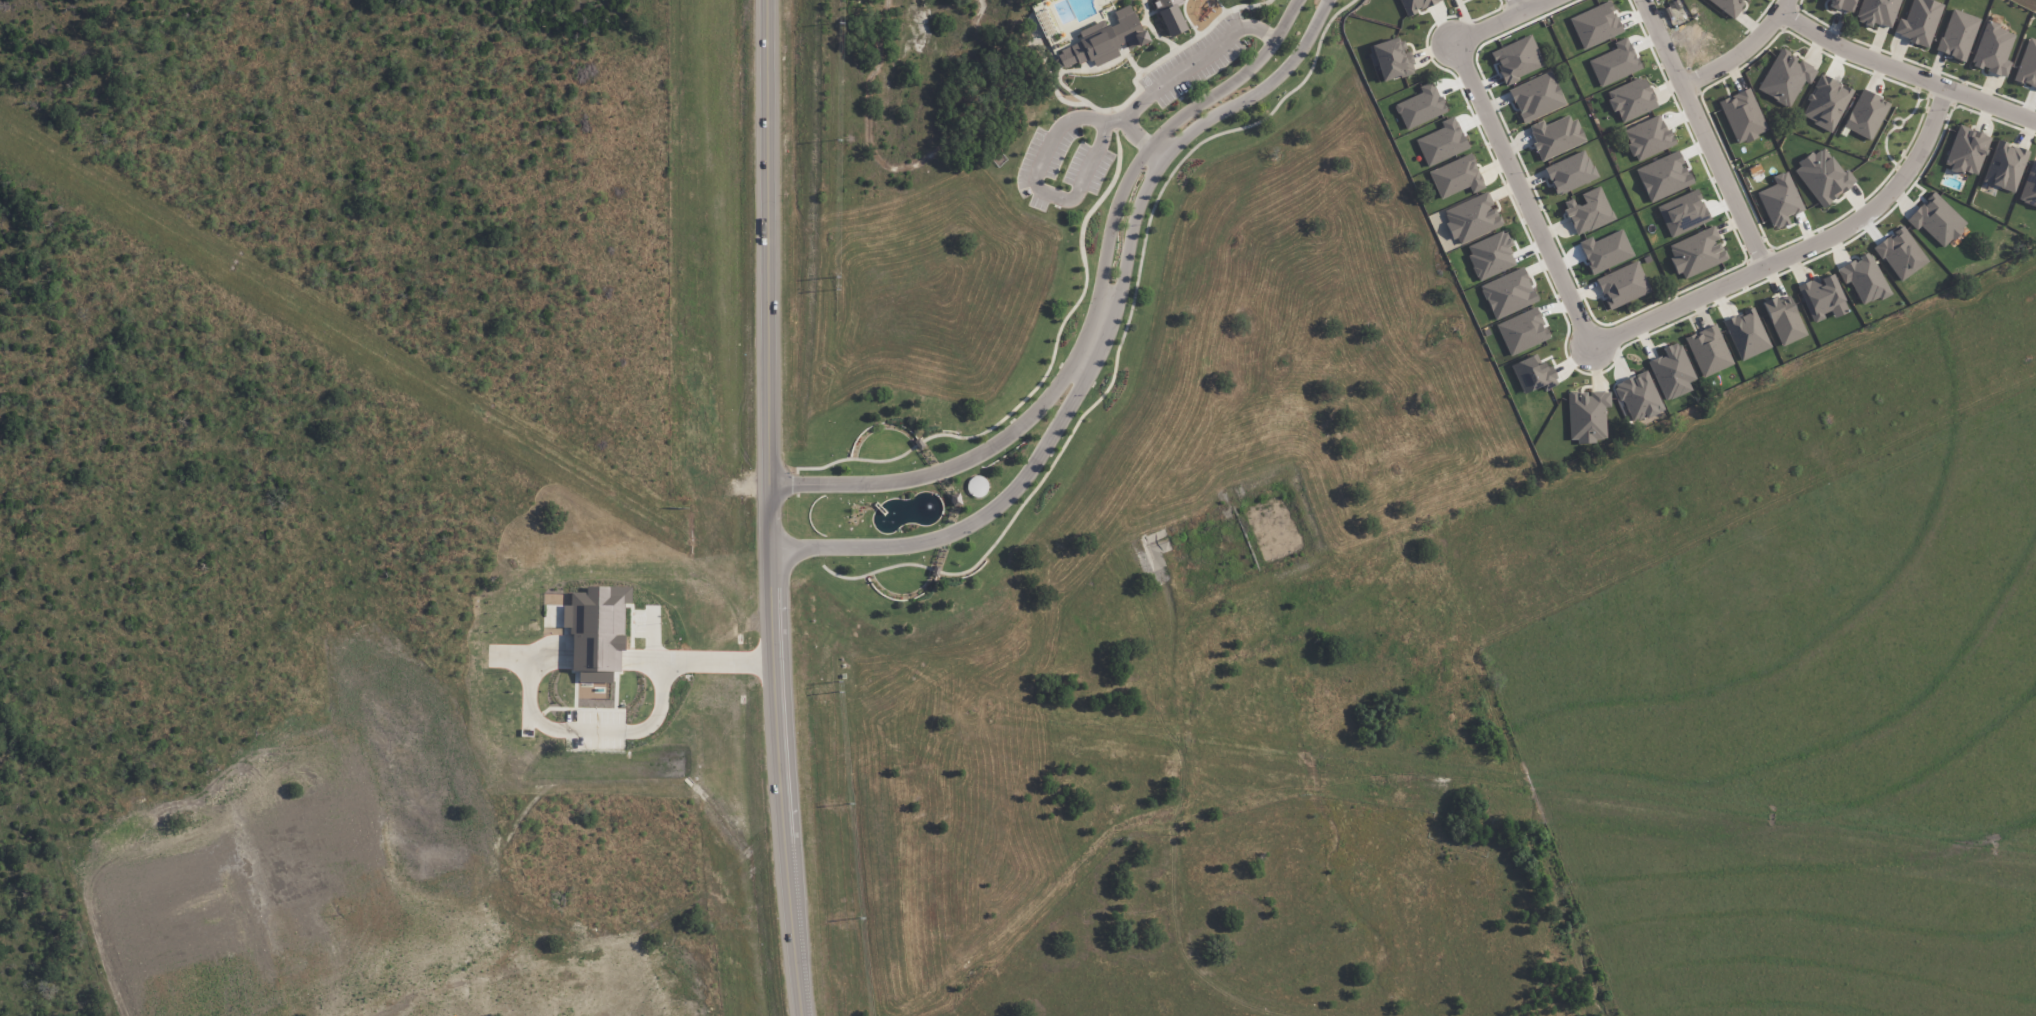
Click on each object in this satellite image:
road: (1523, 3)
building: (1842, 4)
building: (1416, 5)
building: (1729, 6)
park: (1205, 8)
building: (1877, 12)
building: (1178, 15)
road: (1494, 19)
building: (1919, 22)
building: (1106, 35)
building: (1958, 35)
building: (1993, 50)
road: (1743, 51)
building: (1391, 59)
building: (1517, 59)
building: (2027, 65)
road: (1905, 72)
road: (1173, 73)
building: (1785, 77)
building: (1537, 97)
building: (1631, 99)
building: (1826, 103)
building: (1866, 114)
building: (1743, 116)
road: (1704, 132)
building: (1555, 136)
building: (1647, 138)
building: (1967, 151)
building: (2005, 166)
building: (1570, 172)
road: (1037, 175)
building: (1456, 177)
building: (1823, 177)
building: (2029, 187)
road: (1518, 191)
building: (1780, 200)
building: (1588, 211)
building: (1683, 211)
building: (1472, 218)
building: (1937, 220)
road: (1795, 249)
building: (1696, 251)
building: (1901, 254)
building: (1864, 279)
building: (1623, 285)
building: (1508, 293)
building: (1822, 298)
road: (1090, 314)
building: (1784, 320)
building: (1746, 334)
road: (1101, 340)
building: (1708, 351)
building: (1672, 371)
building: (1638, 397)
building: (1587, 415)
road: (1929, 450)
building: (976, 486)
road: (773, 508)
road: (1760, 544)
road: (1868, 615)
building: (601, 632)
road: (702, 661)
road: (574, 730)

